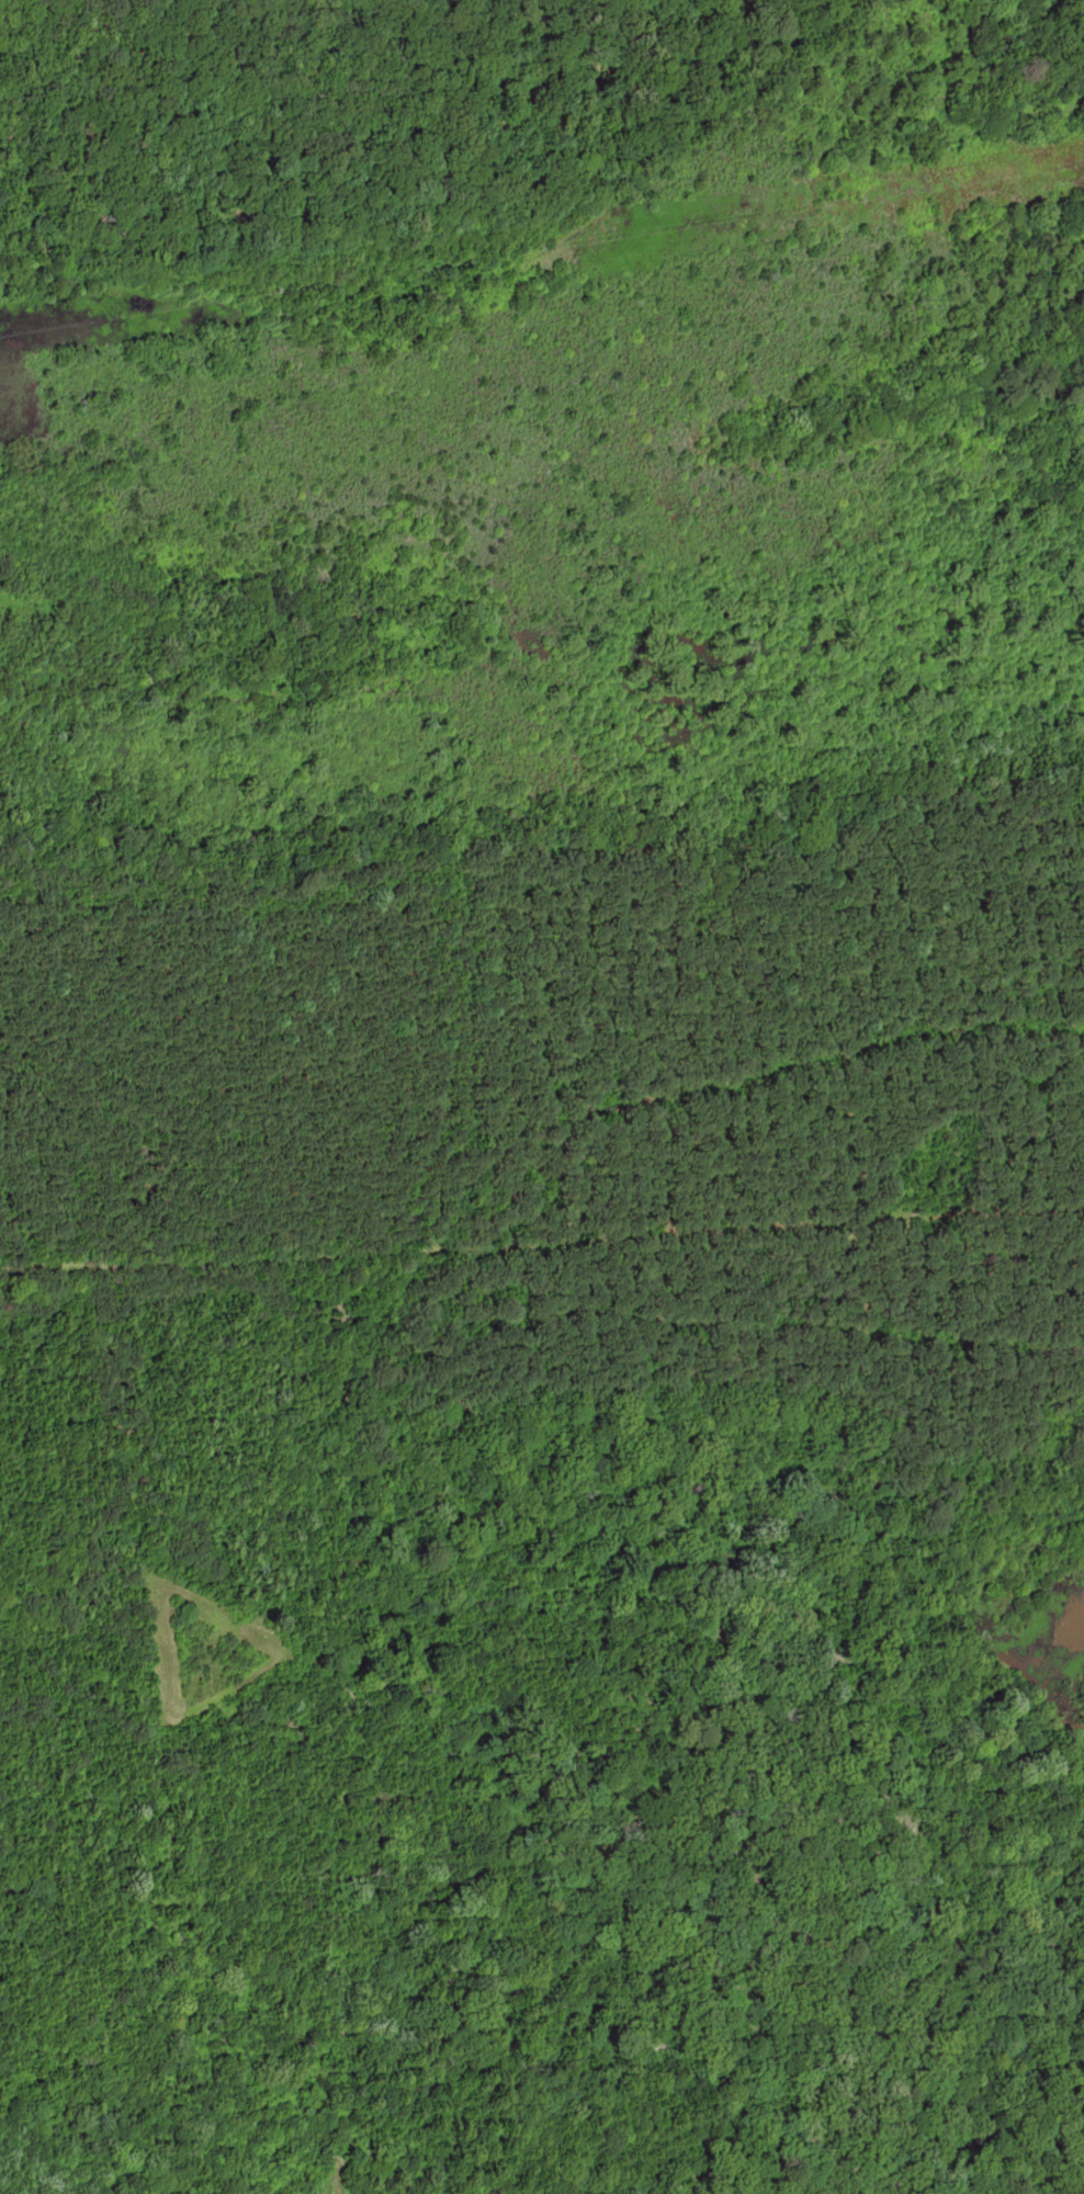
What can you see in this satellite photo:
road: (542, 1230)

